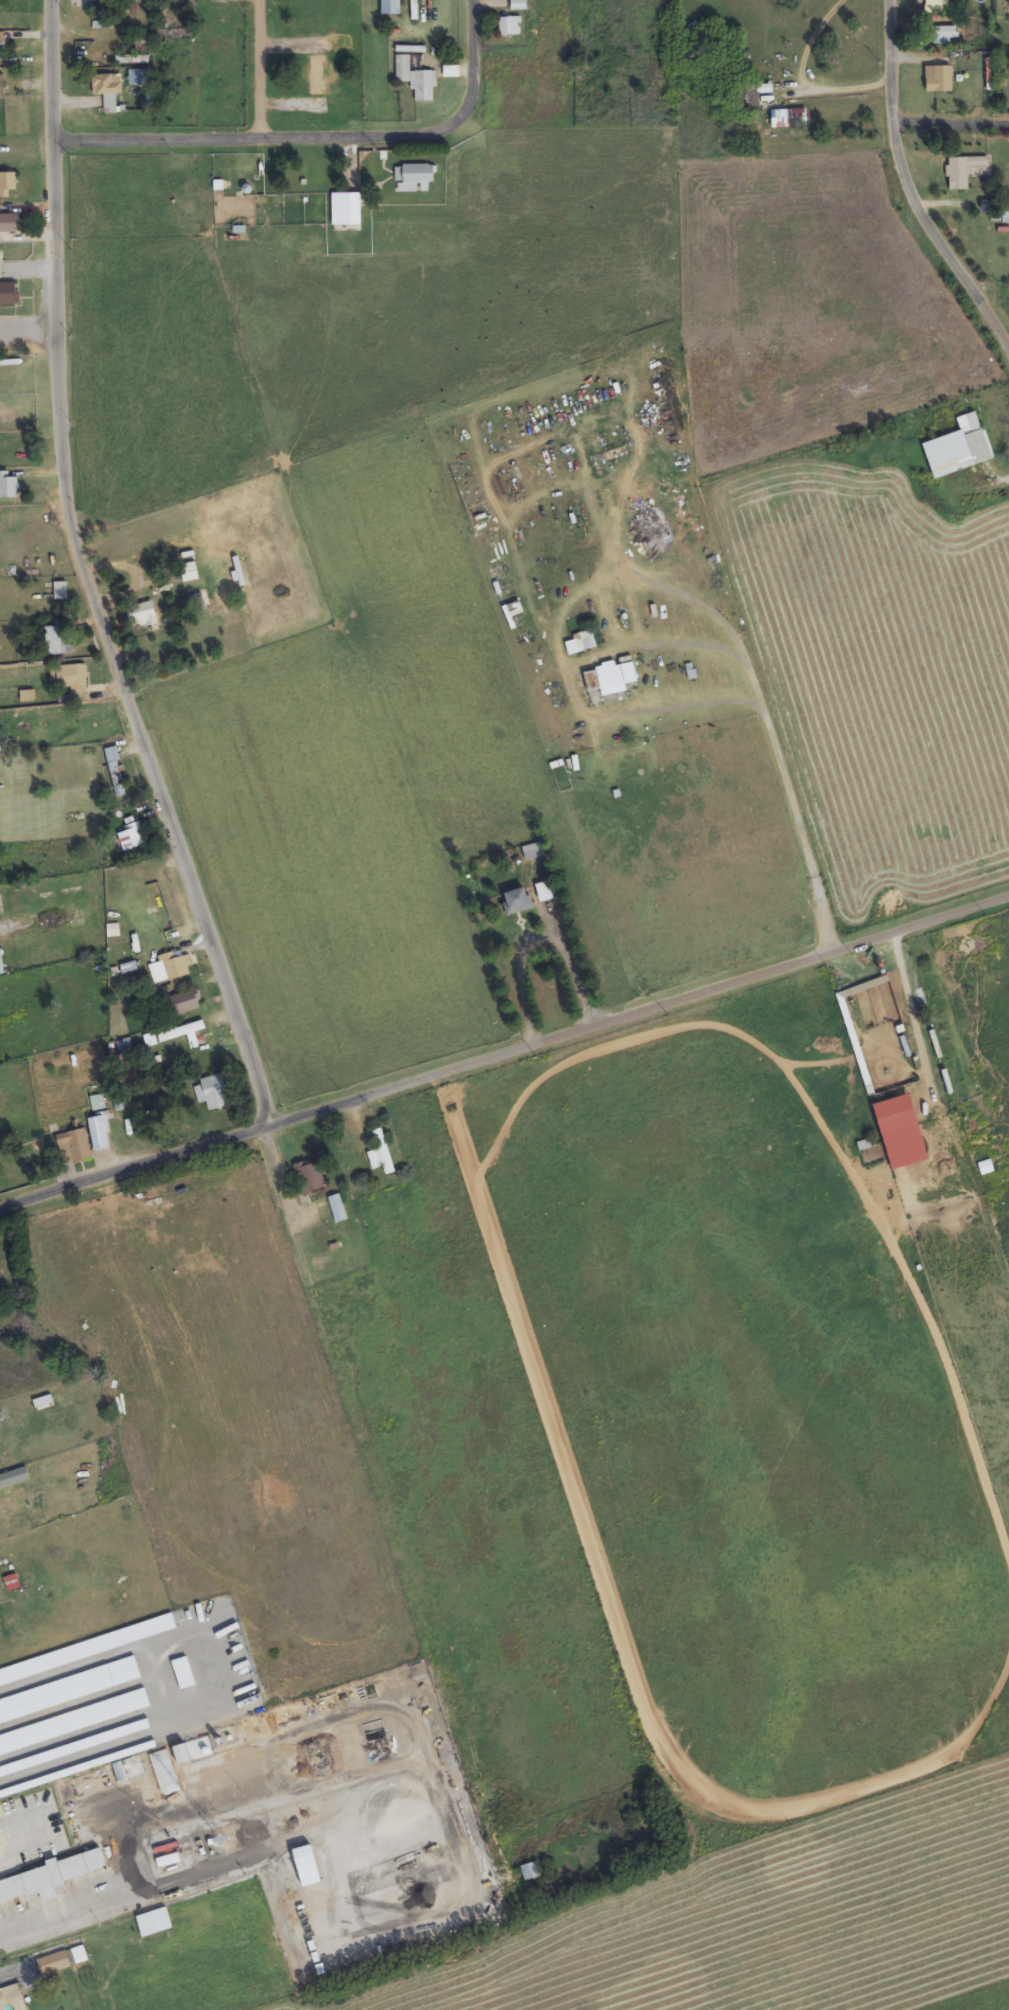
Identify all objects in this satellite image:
building: (517, 4)
building: (390, 7)
building: (509, 26)
building: (945, 34)
building: (850, 36)
building: (1, 49)
road: (468, 54)
road: (264, 68)
building: (317, 76)
building: (938, 78)
building: (416, 79)
building: (2, 84)
building: (107, 90)
building: (781, 118)
road: (948, 126)
road: (264, 137)
building: (965, 170)
building: (413, 177)
building: (7, 184)
road: (905, 193)
building: (346, 209)
building: (9, 223)
building: (9, 294)
building: (974, 438)
building: (8, 486)
road: (81, 576)
building: (60, 591)
building: (201, 599)
building: (141, 615)
building: (59, 640)
building: (580, 645)
building: (72, 678)
building: (606, 680)
building: (115, 772)
building: (131, 837)
building: (545, 891)
building: (158, 900)
building: (517, 901)
building: (169, 968)
building: (185, 1003)
building: (847, 1018)
building: (182, 1033)
building: (124, 1047)
road: (505, 1056)
building: (214, 1092)
building: (97, 1103)
building: (99, 1133)
building: (74, 1147)
building: (381, 1153)
building: (309, 1177)
building: (337, 1208)
building: (14, 1478)
building: (87, 1649)
building: (183, 1673)
building: (68, 1689)
building: (73, 1721)
road: (190, 1743)
road: (433, 1766)
road: (164, 1792)
building: (304, 1856)
building: (530, 1872)
building: (49, 1877)
building: (154, 1922)
building: (59, 1961)
building: (0, 1996)

